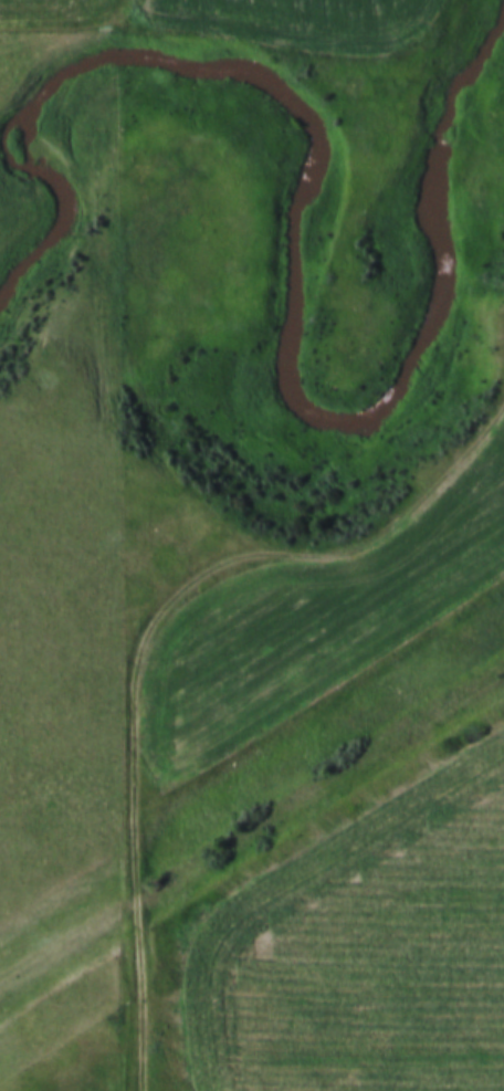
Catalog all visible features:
road: (147, 647)
road: (251, 827)

